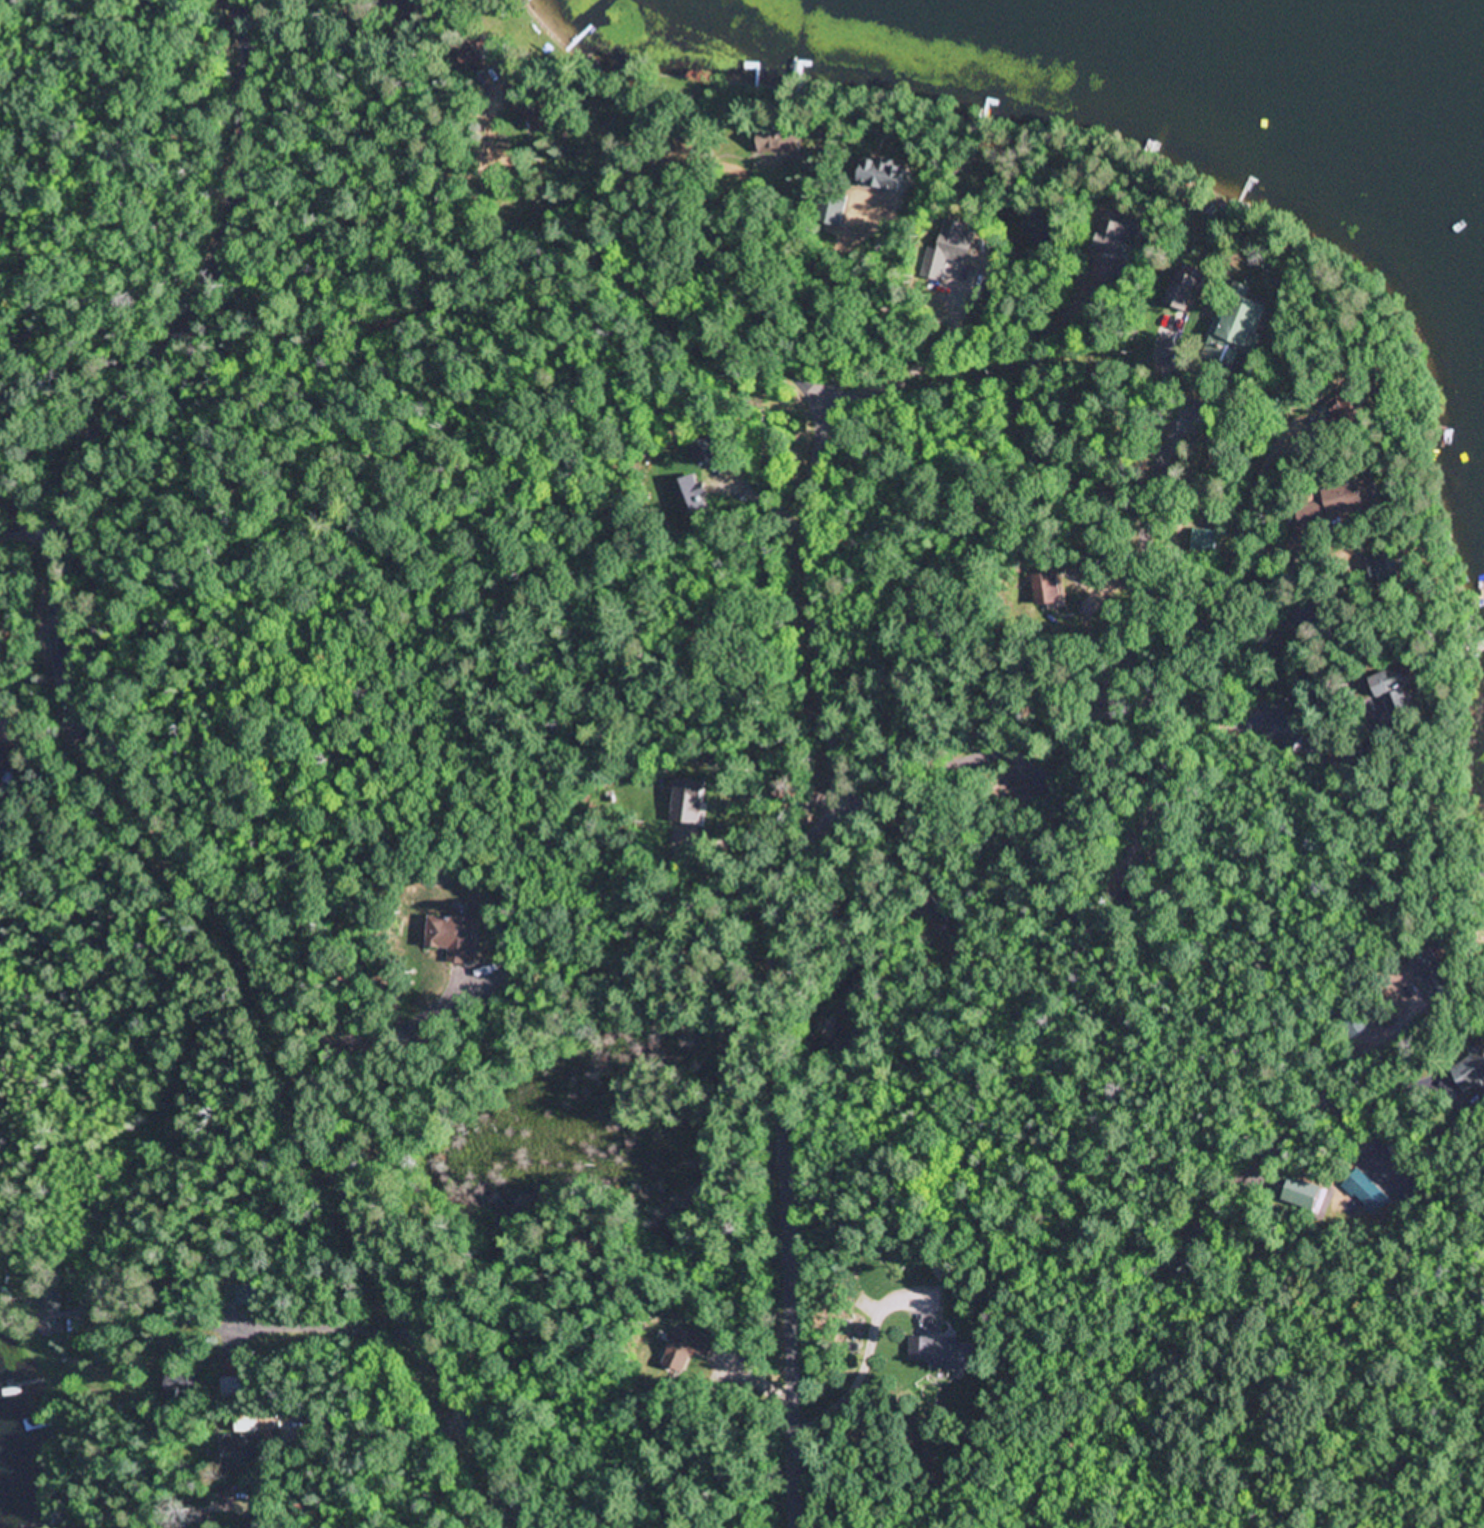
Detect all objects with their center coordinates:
building: (407, 3)
building: (462, 52)
building: (781, 140)
building: (886, 173)
building: (833, 209)
building: (1119, 234)
building: (1190, 291)
building: (1241, 328)
building: (1346, 496)
road: (32, 535)
building: (1205, 542)
building: (1048, 589)
road: (816, 610)
building: (1396, 681)
building: (3, 763)
road: (133, 786)
road: (790, 867)
building: (1472, 1071)
building: (1363, 1190)
building: (50, 1299)
building: (945, 1354)
building: (185, 1383)
building: (237, 1451)

